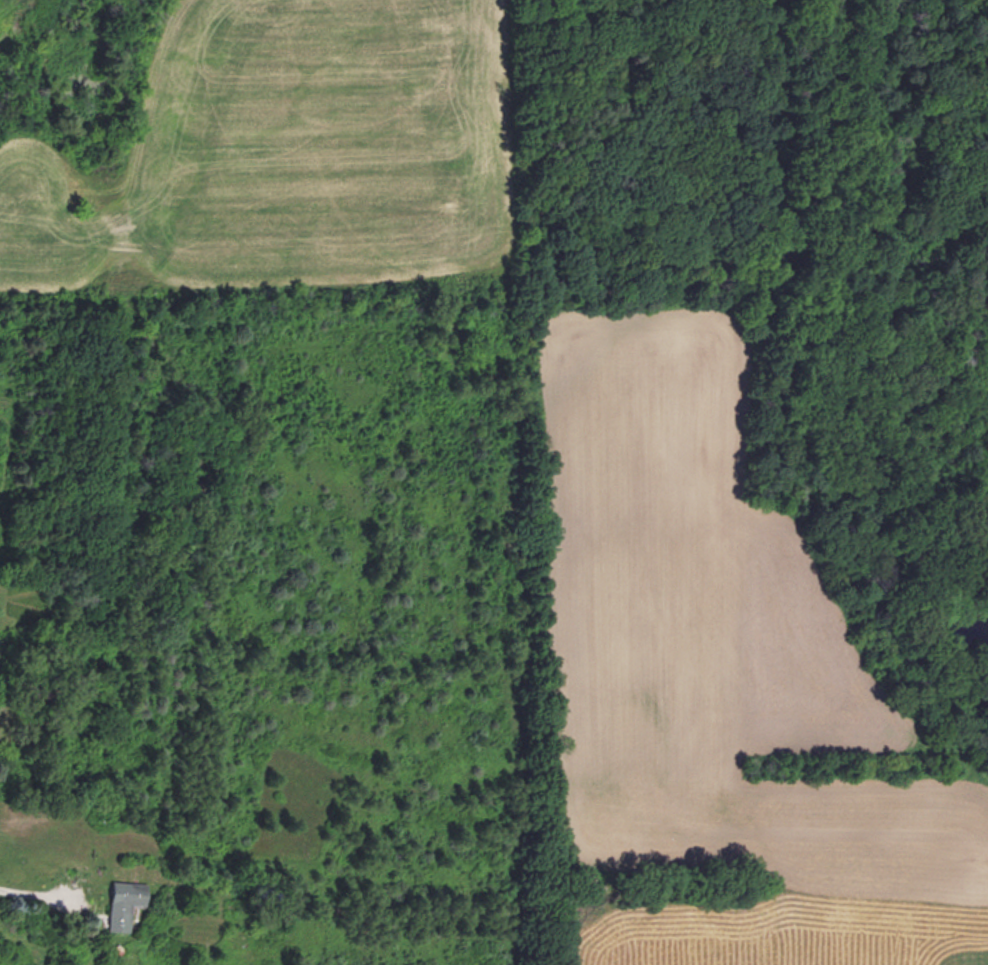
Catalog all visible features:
road: (35, 893)
building: (125, 902)

